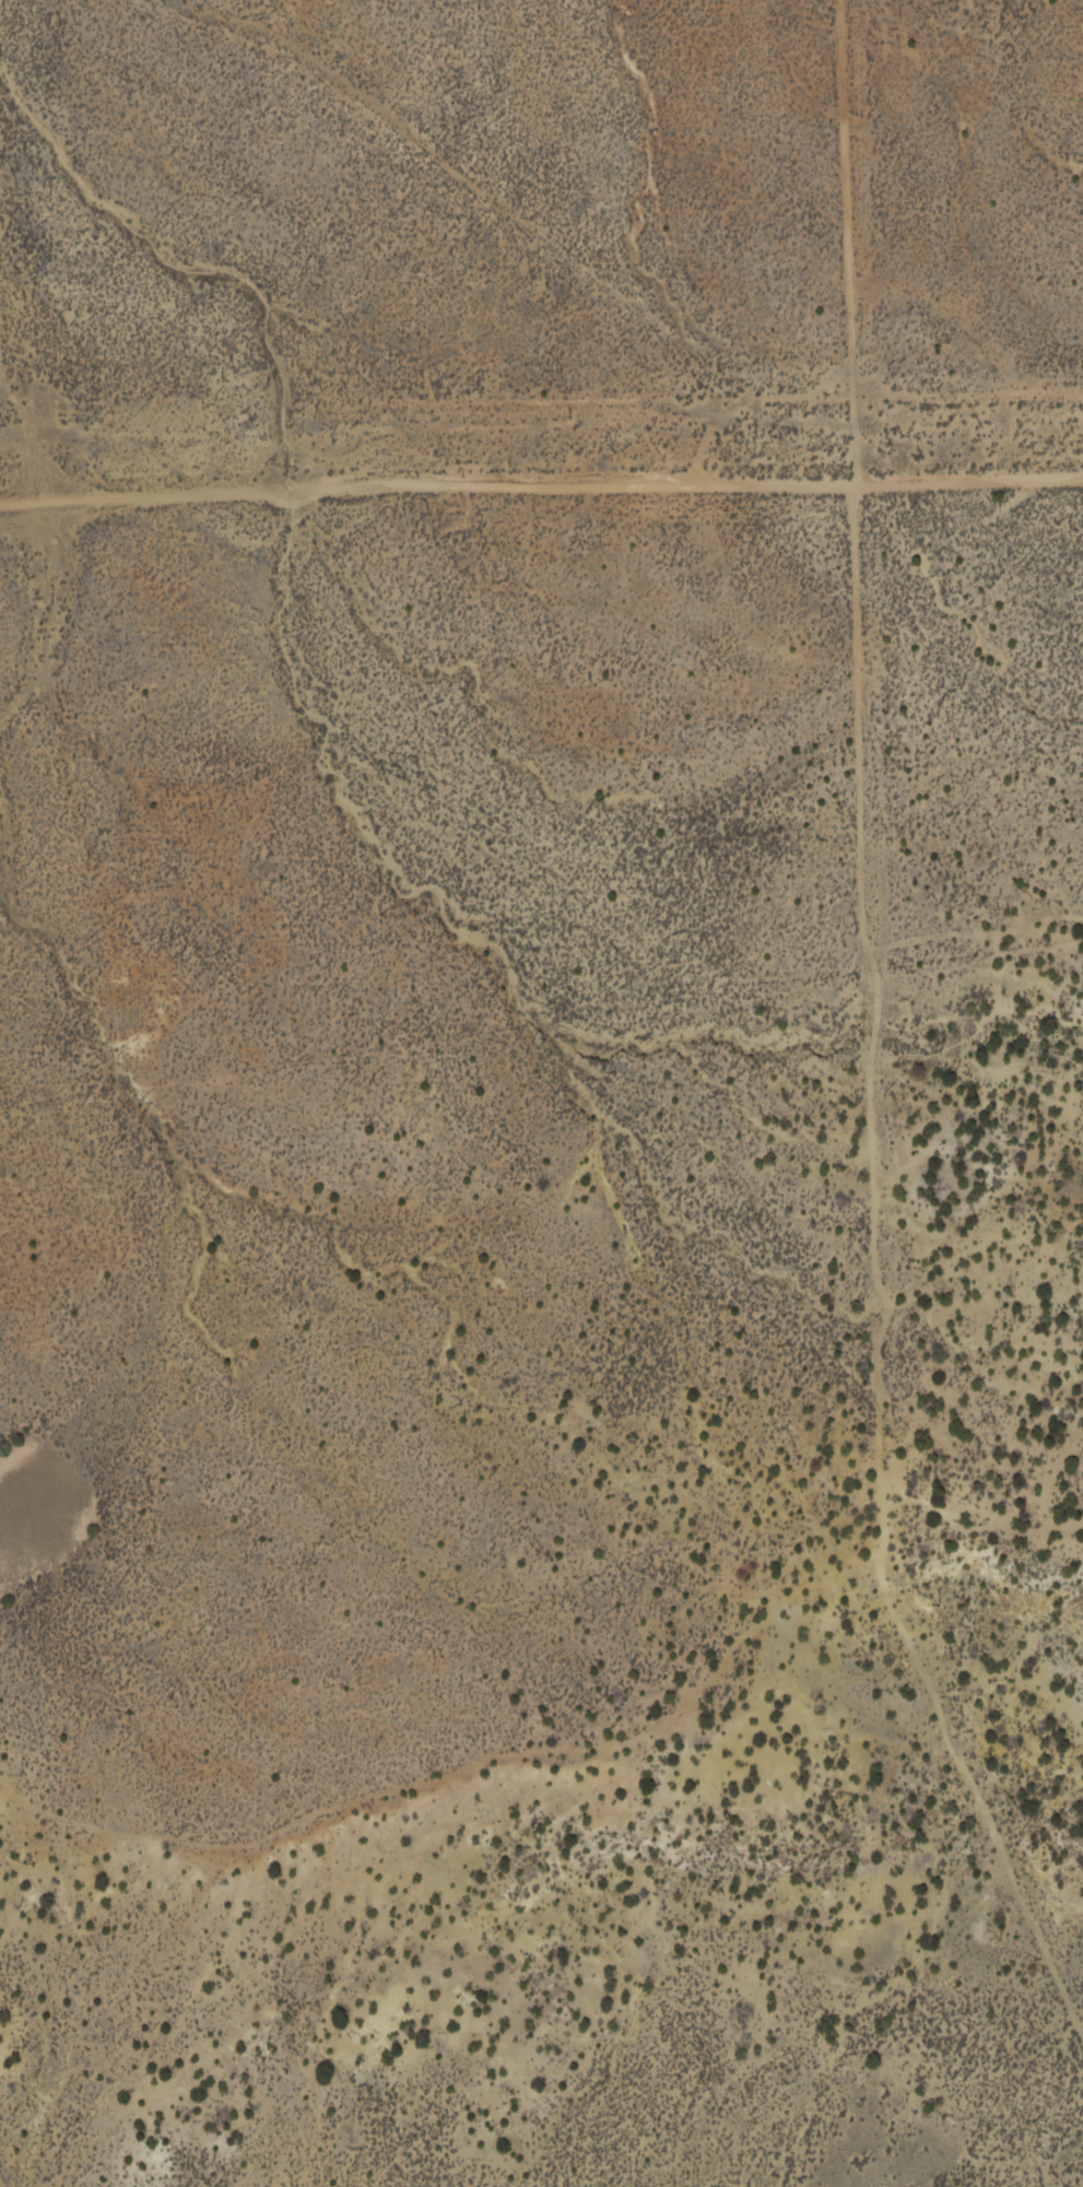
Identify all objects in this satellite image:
road: (541, 486)

